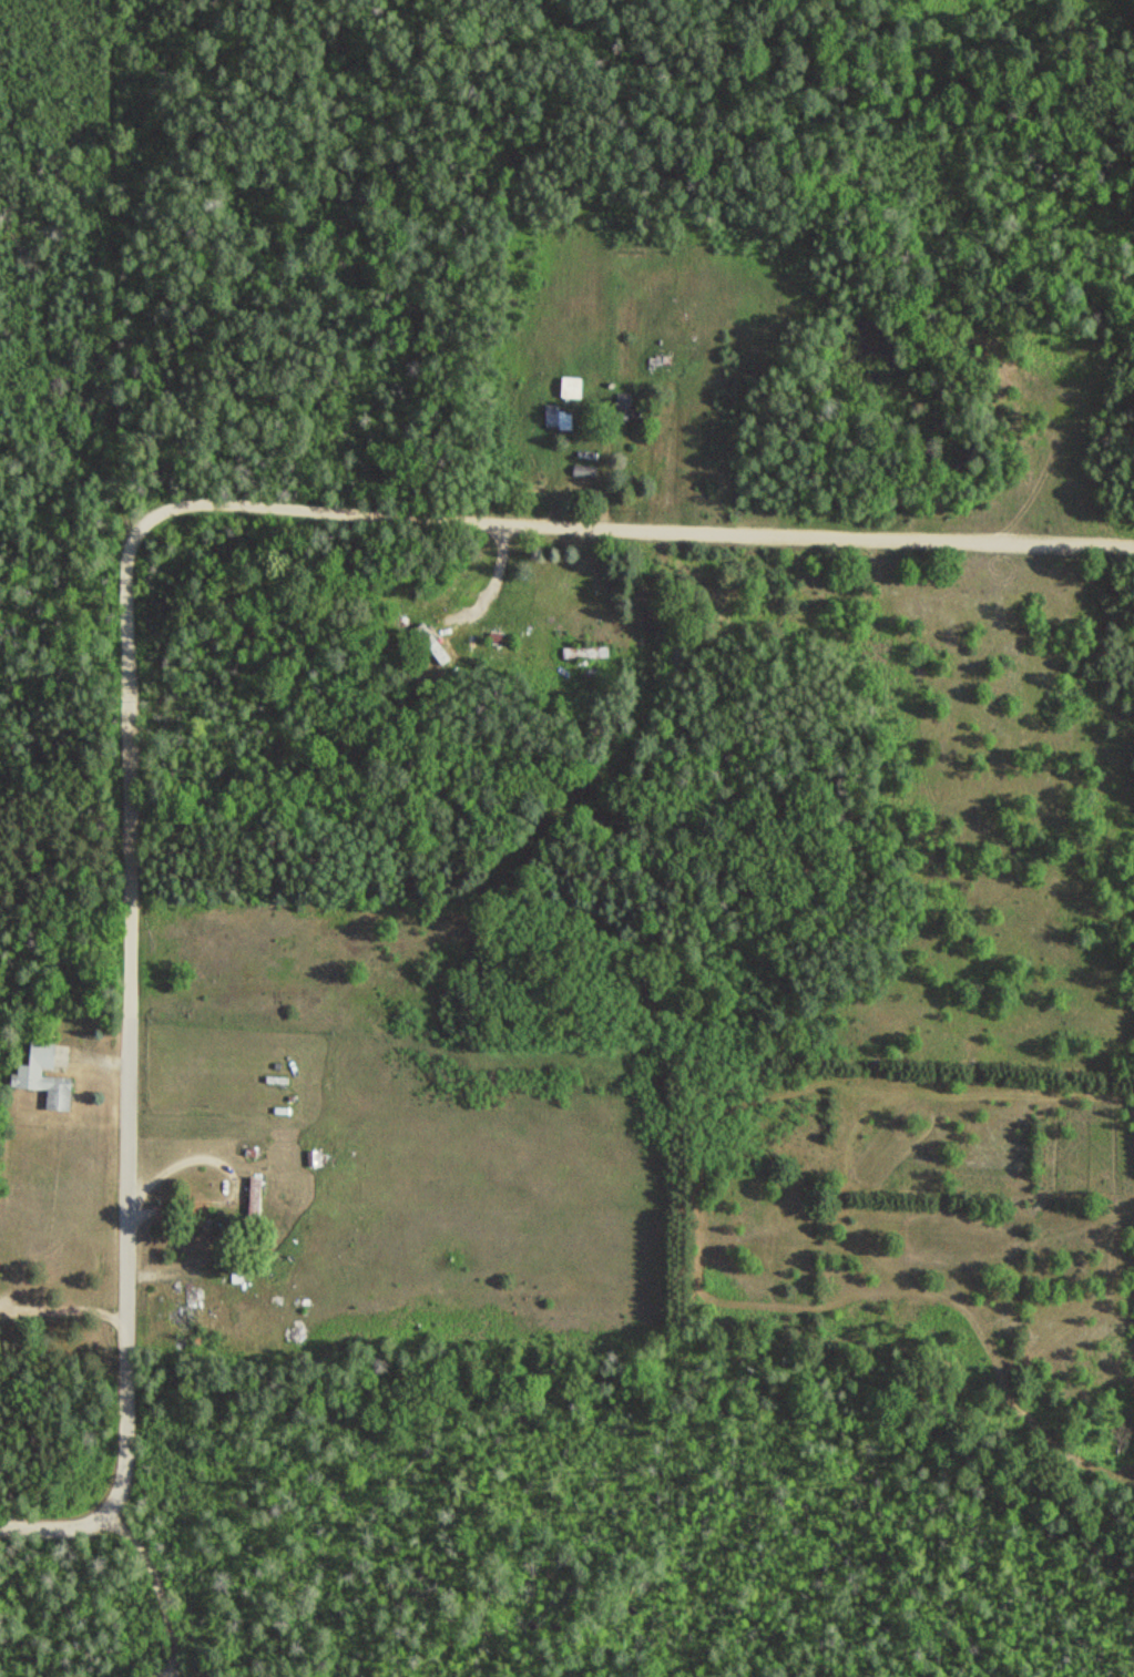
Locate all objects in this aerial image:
road: (112, 266)
building: (573, 388)
building: (629, 407)
road: (610, 531)
road: (129, 794)
building: (47, 1076)
building: (190, 1312)
road: (124, 1326)

